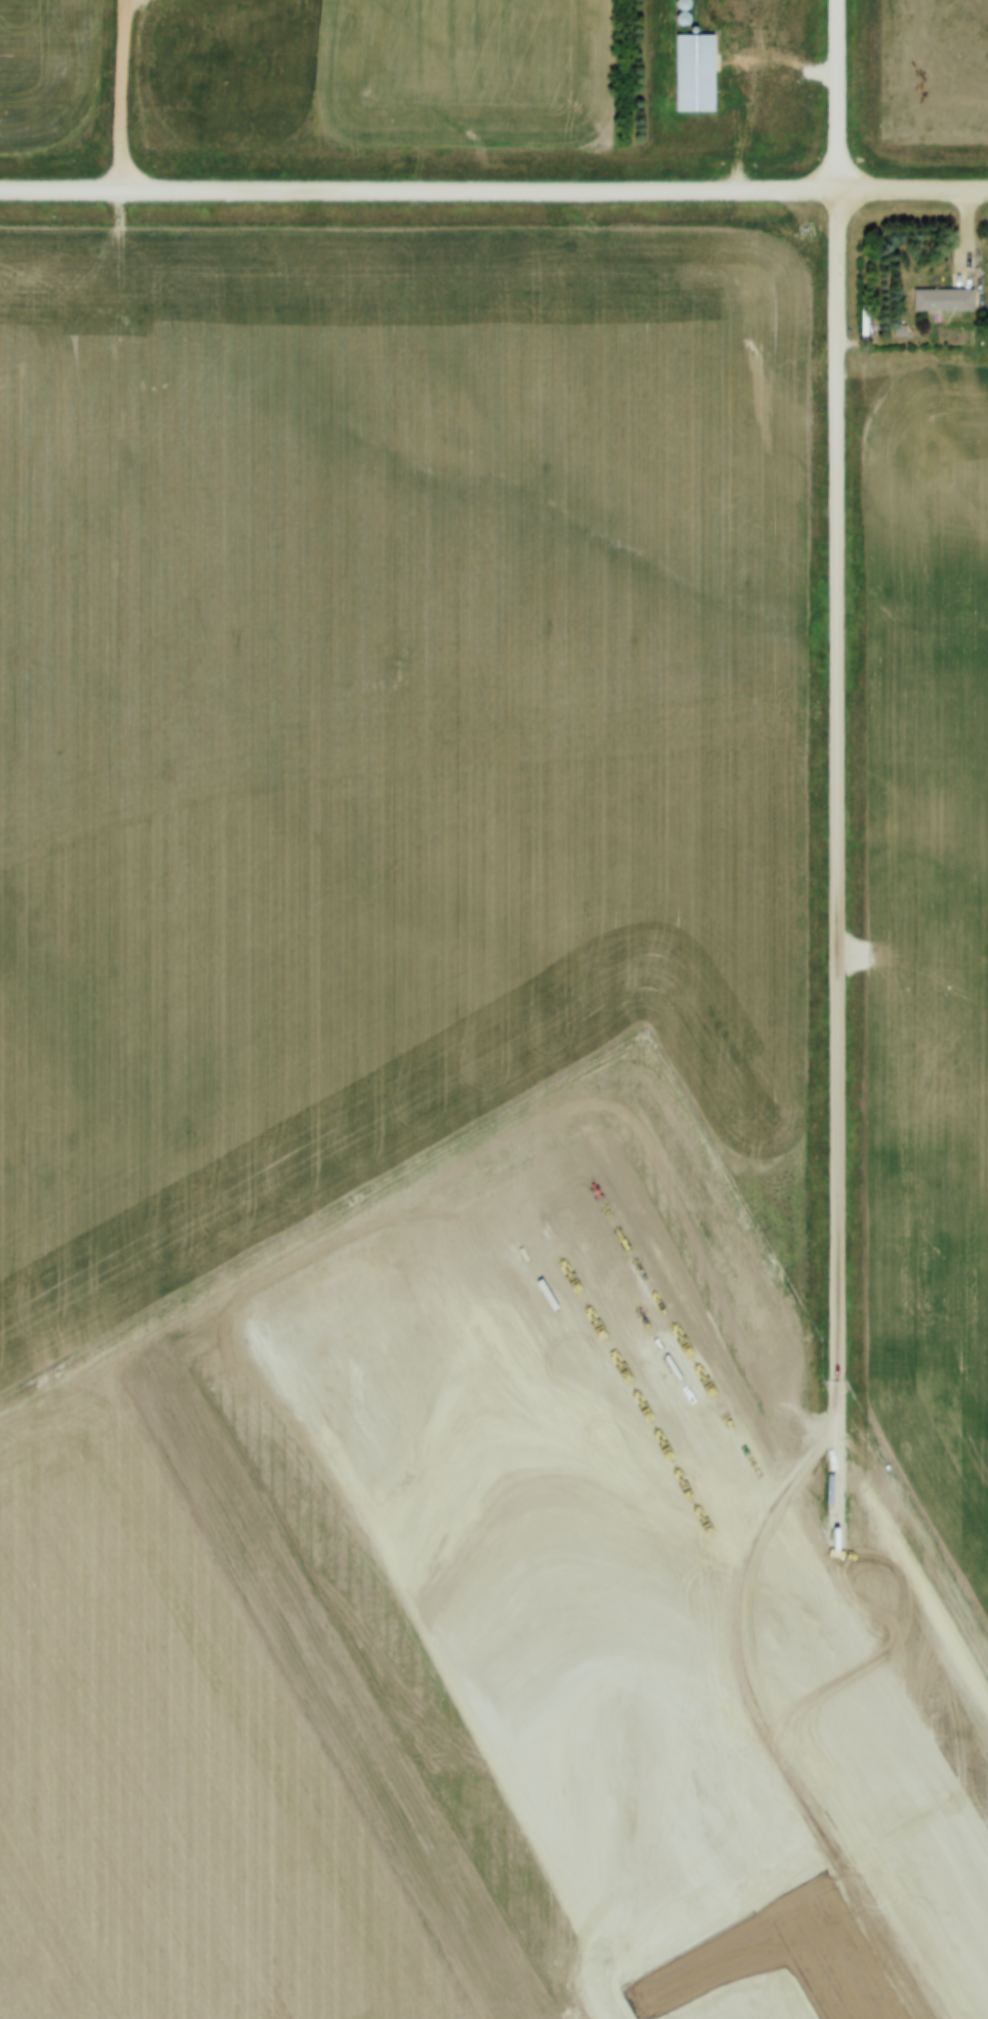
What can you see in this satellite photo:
building: (698, 64)
road: (751, 86)
road: (123, 90)
road: (836, 90)
road: (493, 181)
building: (945, 289)
crop: (385, 705)
road: (832, 866)
crop: (926, 959)
building: (836, 966)
airport: (481, 1614)
airport runway: (817, 1956)
airport taxiway: (706, 1966)

